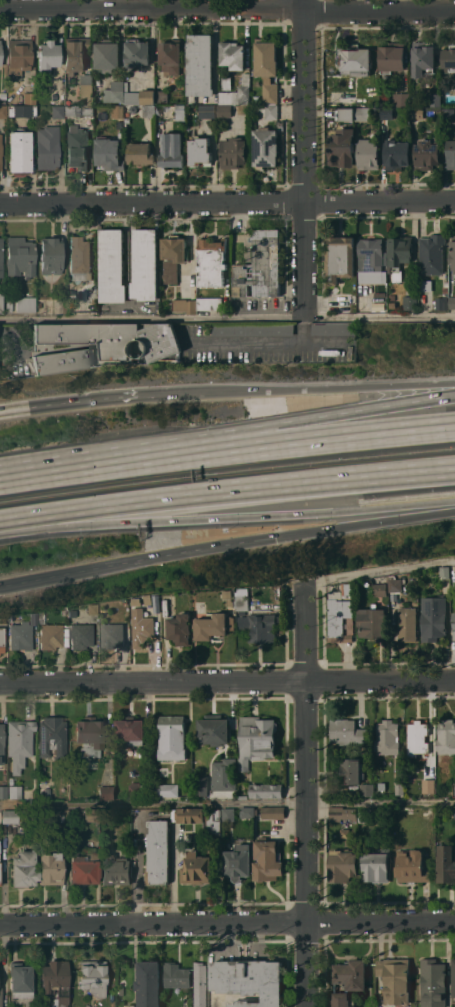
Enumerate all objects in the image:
road: (304, 4)
road: (152, 8)
road: (379, 12)
building: (0, 44)
building: (76, 53)
building: (137, 53)
building: (47, 55)
building: (107, 56)
building: (170, 56)
building: (392, 56)
building: (19, 57)
building: (422, 57)
building: (265, 58)
building: (449, 58)
building: (353, 59)
building: (0, 60)
building: (231, 60)
building: (200, 64)
building: (86, 89)
building: (116, 91)
building: (270, 91)
building: (237, 93)
building: (3, 95)
building: (161, 96)
building: (29, 97)
building: (140, 97)
building: (416, 98)
building: (20, 100)
building: (401, 100)
building: (435, 100)
building: (88, 109)
building: (73, 110)
building: (148, 110)
building: (21, 111)
building: (57, 111)
building: (117, 111)
building: (207, 111)
building: (224, 111)
building: (271, 111)
building: (3, 112)
building: (180, 112)
building: (417, 113)
building: (344, 114)
building: (362, 114)
building: (387, 114)
building: (448, 114)
building: (127, 120)
building: (47, 147)
building: (77, 147)
building: (265, 147)
building: (342, 147)
building: (171, 149)
building: (19, 150)
building: (0, 152)
building: (199, 152)
building: (233, 152)
building: (108, 154)
building: (140, 154)
building: (368, 154)
building: (396, 154)
building: (426, 154)
building: (451, 154)
road: (304, 161)
road: (227, 203)
building: (452, 252)
building: (431, 254)
building: (50, 255)
building: (399, 255)
building: (20, 256)
building: (173, 256)
building: (370, 256)
building: (1, 257)
building: (80, 258)
building: (339, 258)
building: (211, 261)
building: (145, 265)
building: (260, 265)
building: (112, 266)
building: (427, 285)
building: (445, 288)
building: (391, 297)
building: (1, 301)
building: (410, 302)
building: (452, 302)
building: (441, 303)
building: (21, 304)
building: (93, 304)
building: (209, 304)
building: (184, 305)
building: (392, 305)
road: (152, 318)
building: (334, 328)
building: (254, 329)
road: (265, 339)
building: (100, 344)
road: (303, 389)
road: (75, 402)
road: (305, 420)
road: (306, 442)
road: (79, 468)
road: (227, 497)
road: (227, 519)
road: (364, 525)
traffic signals: (275, 540)
road: (137, 563)
road: (379, 569)
building: (444, 572)
building: (395, 584)
building: (348, 589)
building: (379, 589)
building: (279, 590)
building: (228, 594)
building: (242, 594)
building: (149, 599)
building: (231, 602)
building: (243, 602)
building: (156, 603)
building: (236, 604)
building: (133, 606)
building: (91, 609)
building: (64, 612)
building: (72, 612)
building: (41, 618)
building: (433, 618)
building: (339, 619)
building: (2, 620)
building: (372, 622)
building: (454, 623)
building: (407, 624)
building: (214, 626)
building: (261, 627)
building: (179, 628)
building: (142, 629)
building: (22, 633)
building: (81, 635)
building: (112, 635)
building: (50, 636)
building: (2, 639)
road: (227, 681)
building: (130, 729)
building: (213, 729)
building: (347, 732)
building: (52, 736)
building: (90, 736)
building: (388, 736)
building: (171, 737)
building: (417, 737)
building: (446, 737)
building: (256, 739)
building: (19, 743)
building: (1, 744)
building: (93, 763)
building: (350, 770)
building: (224, 774)
building: (427, 785)
building: (200, 786)
building: (399, 788)
building: (134, 789)
building: (165, 790)
building: (367, 790)
building: (453, 790)
building: (14, 791)
building: (266, 791)
building: (3, 792)
building: (44, 792)
building: (106, 792)
building: (223, 794)
road: (304, 794)
building: (243, 796)
road: (227, 800)
building: (107, 812)
building: (247, 812)
building: (273, 812)
building: (454, 812)
building: (342, 813)
building: (91, 814)
building: (228, 814)
building: (0, 815)
building: (189, 815)
building: (365, 815)
building: (18, 817)
building: (213, 822)
building: (344, 833)
building: (157, 852)
building: (267, 860)
building: (238, 862)
building: (445, 864)
building: (342, 866)
building: (376, 866)
building: (411, 866)
building: (51, 868)
building: (195, 868)
building: (23, 869)
building: (84, 869)
road: (137, 869)
building: (116, 870)
road: (390, 903)
road: (227, 921)
building: (176, 975)
building: (93, 976)
building: (453, 977)
building: (395, 979)
building: (19, 980)
building: (55, 980)
building: (348, 980)
building: (250, 981)
building: (432, 983)
building: (148, 984)
building: (199, 984)
building: (119, 990)
building: (0, 996)

